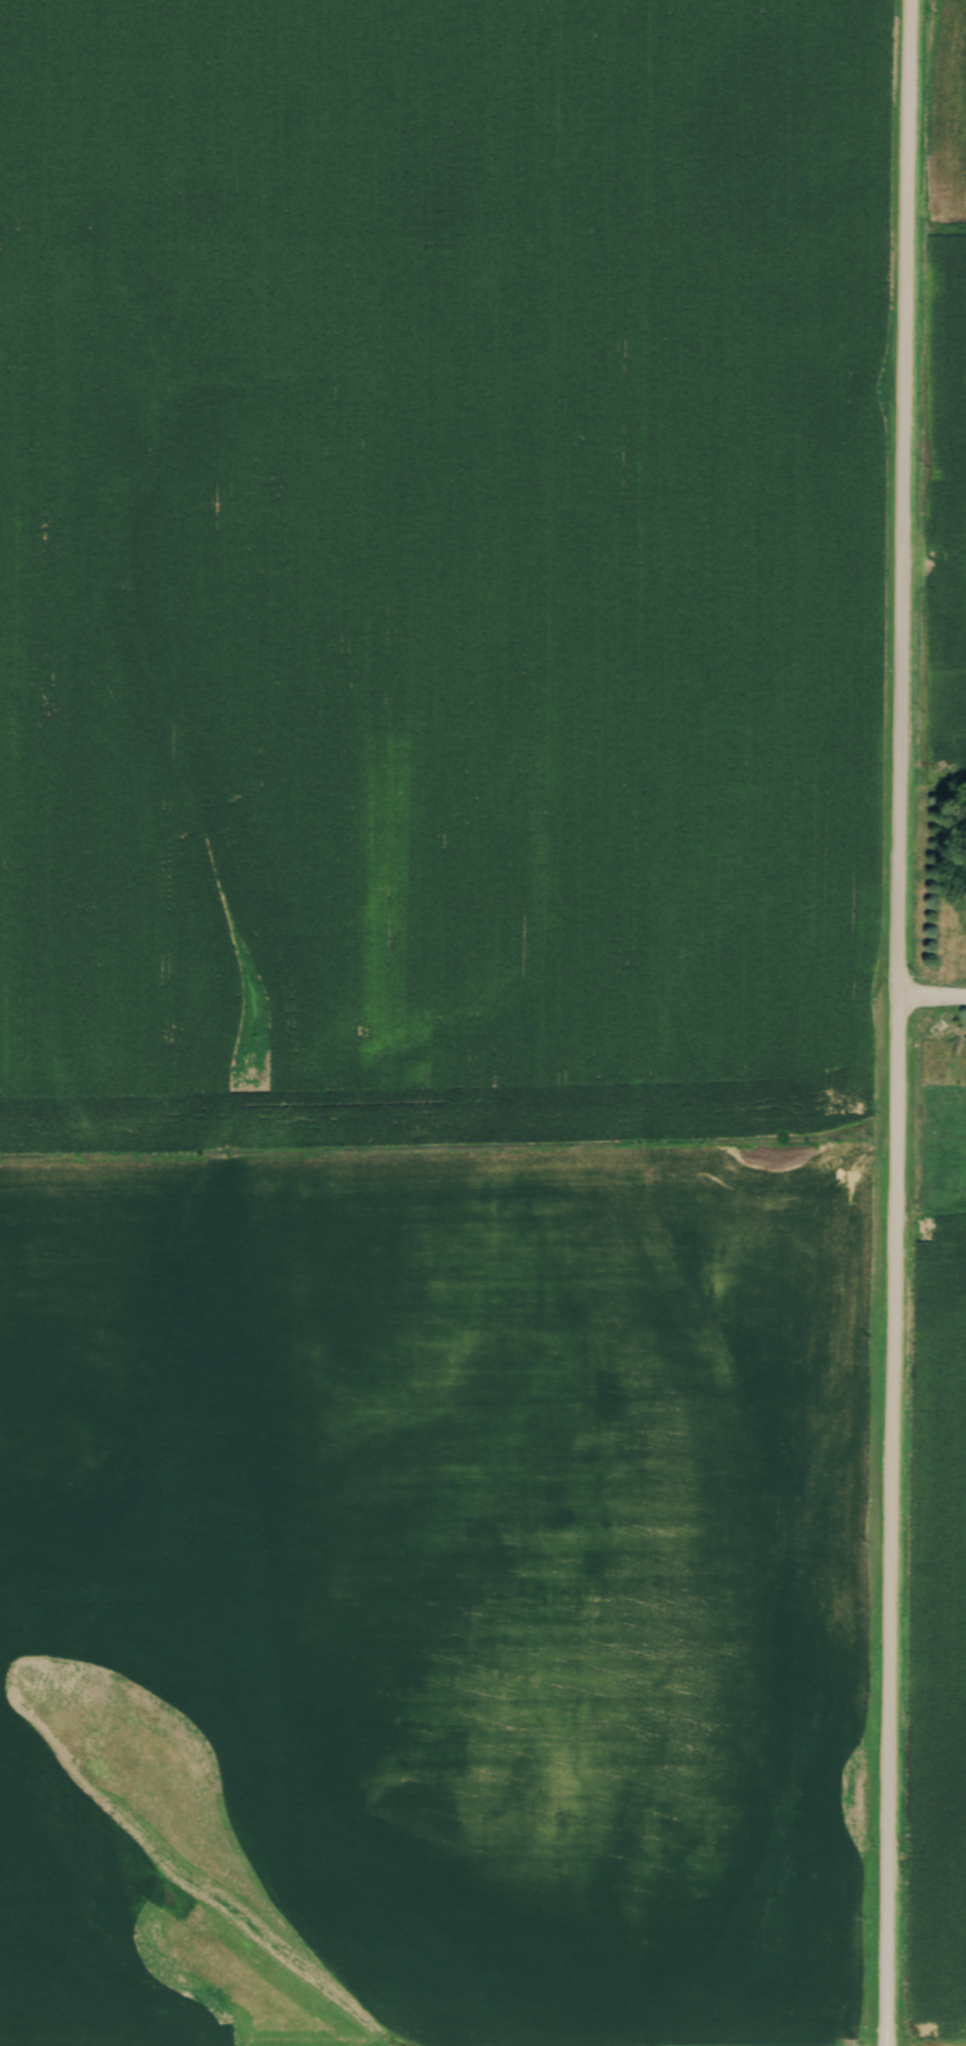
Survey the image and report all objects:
road: (929, 998)
road: (891, 1022)

